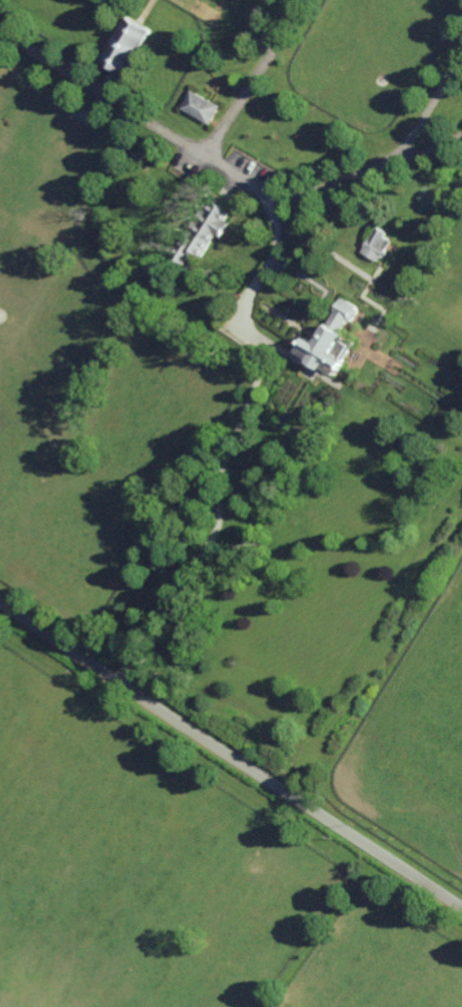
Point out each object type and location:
building: (128, 44)
road: (258, 78)
building: (201, 106)
road: (429, 108)
road: (429, 148)
road: (334, 183)
building: (203, 230)
building: (377, 244)
road: (247, 296)
building: (332, 342)
road: (230, 752)

